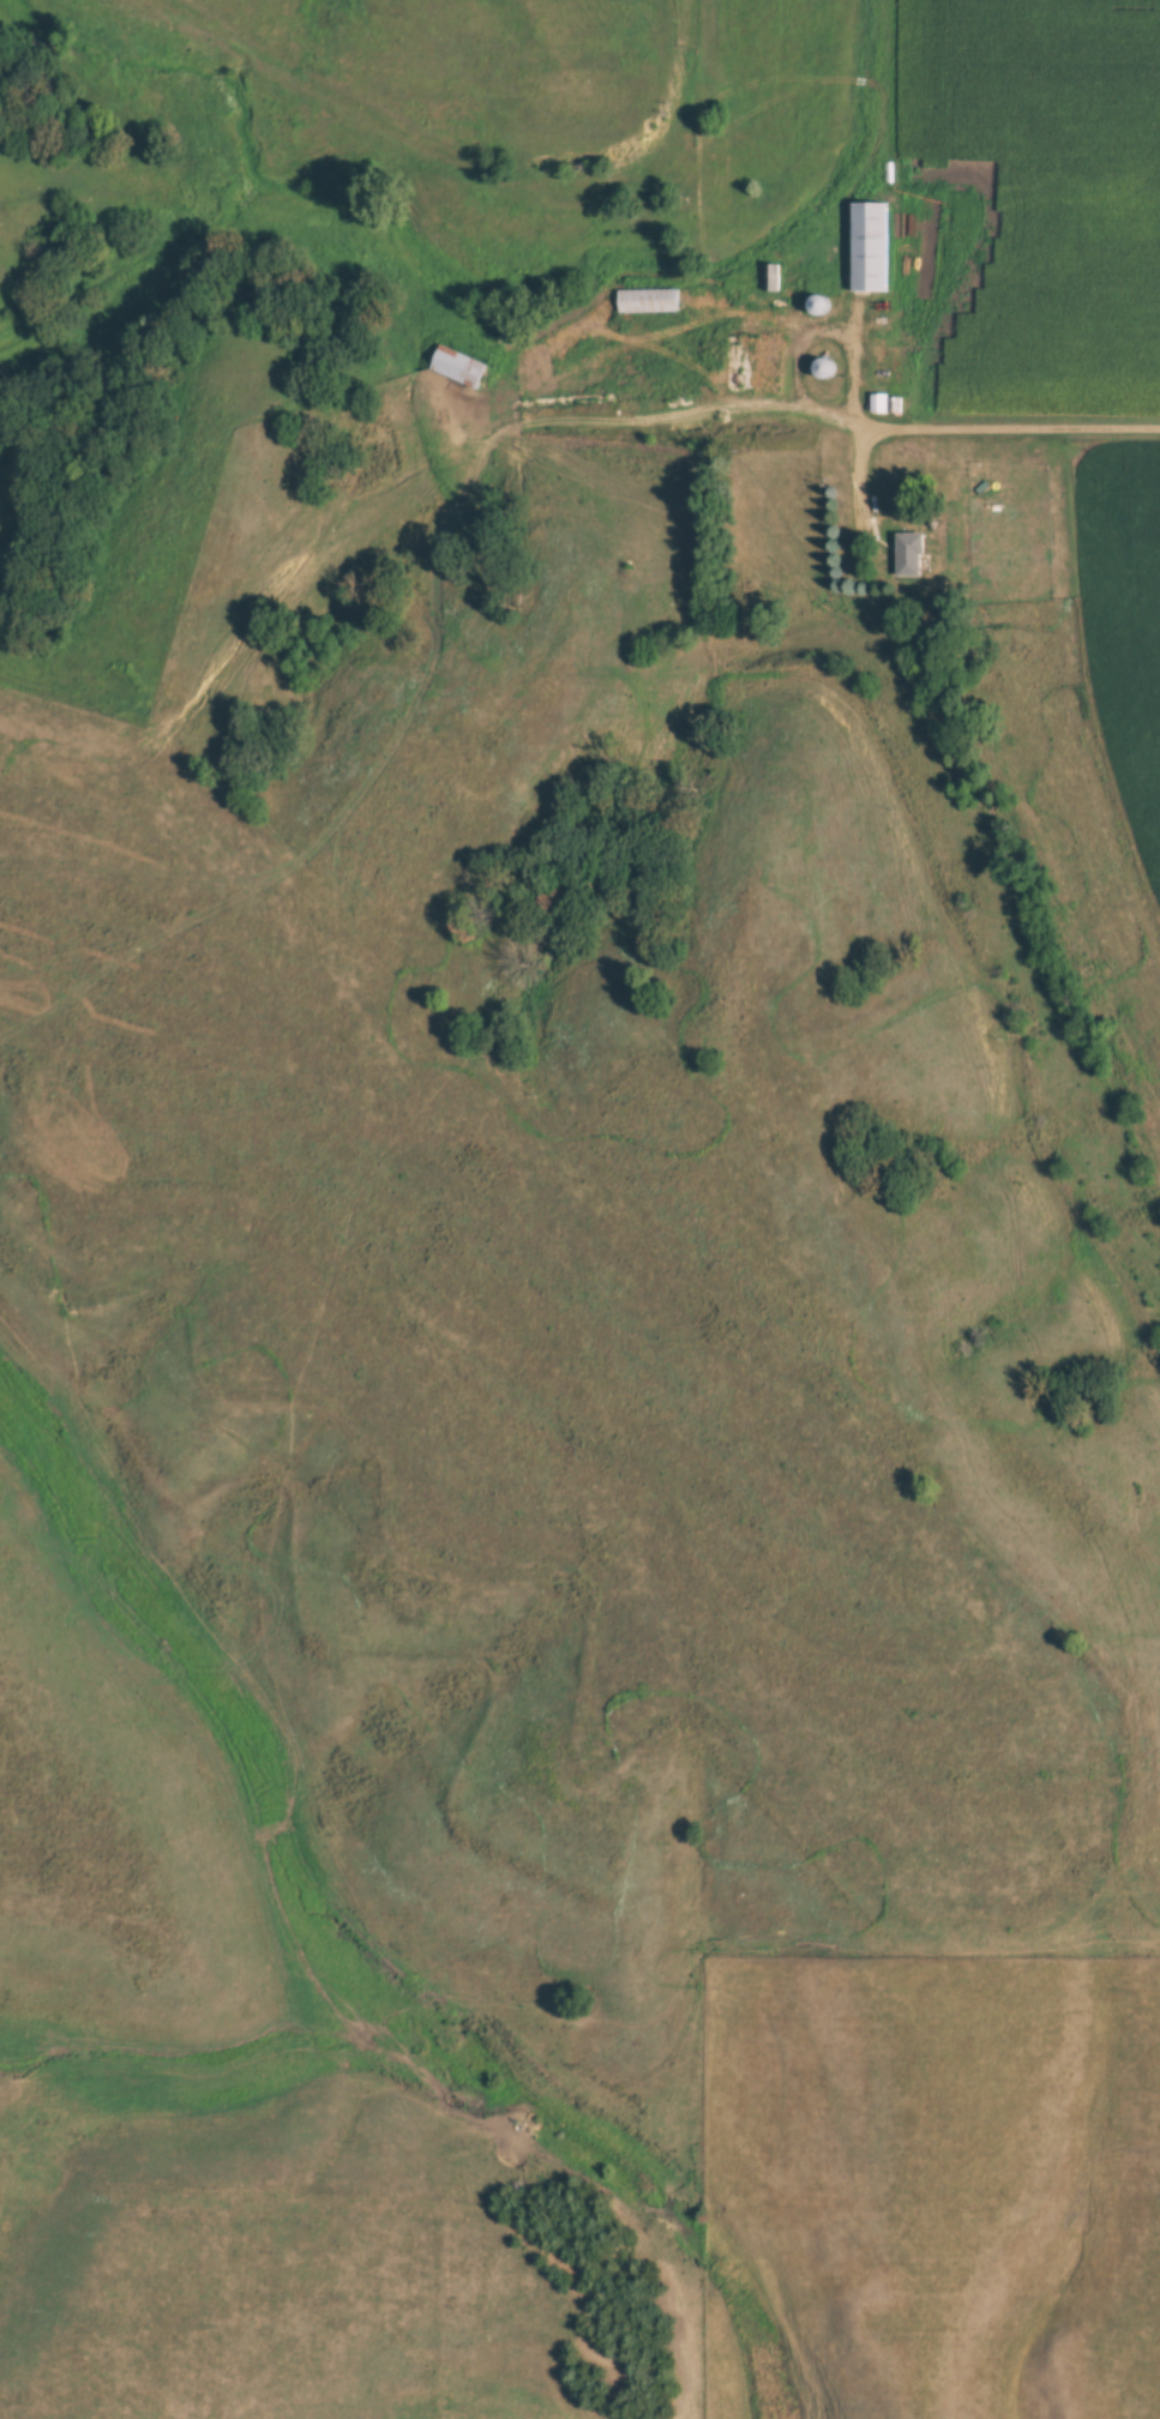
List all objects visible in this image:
crop: (1032, 204)
road: (827, 331)
road: (1009, 427)

